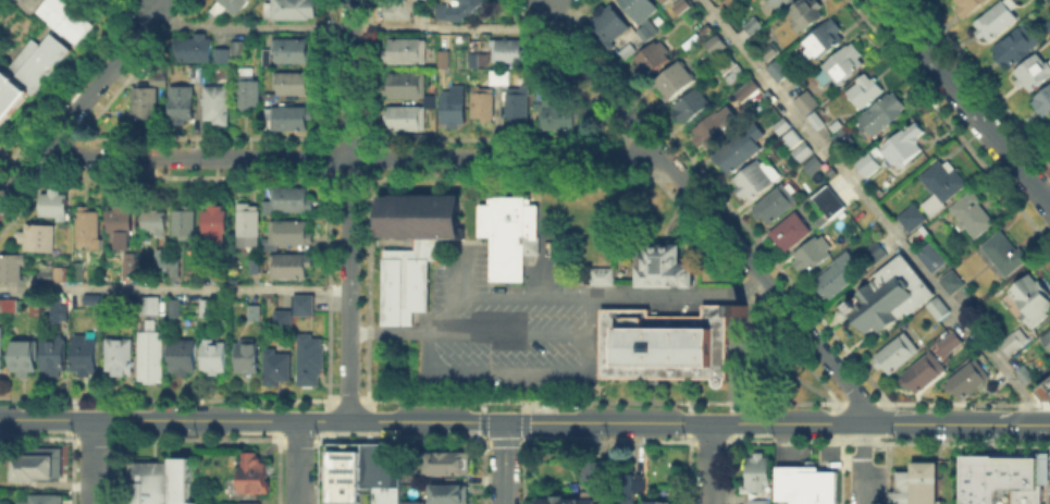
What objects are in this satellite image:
building: (662, 1)
building: (668, 2)
building: (727, 3)
building: (782, 3)
building: (236, 4)
road: (148, 5)
road: (553, 5)
building: (971, 5)
building: (682, 8)
building: (292, 9)
building: (402, 9)
building: (462, 10)
building: (810, 13)
building: (644, 15)
building: (63, 17)
building: (999, 20)
road: (351, 26)
building: (613, 27)
building: (704, 27)
building: (748, 27)
building: (1049, 27)
building: (827, 39)
building: (714, 42)
building: (194, 48)
building: (1016, 49)
building: (770, 50)
building: (234, 51)
building: (295, 52)
building: (408, 52)
building: (510, 52)
building: (629, 52)
building: (220, 53)
building: (652, 58)
building: (445, 60)
building: (475, 62)
building: (729, 63)
building: (785, 66)
building: (844, 67)
building: (25, 71)
road: (594, 73)
building: (1035, 73)
building: (200, 75)
building: (501, 77)
building: (671, 78)
building: (160, 79)
building: (295, 85)
building: (866, 89)
building: (745, 91)
building: (250, 94)
road: (82, 99)
building: (144, 101)
building: (805, 101)
building: (184, 102)
building: (431, 102)
road: (965, 102)
building: (1045, 102)
building: (219, 105)
building: (484, 105)
building: (692, 105)
building: (519, 106)
building: (455, 111)
building: (882, 112)
building: (563, 118)
building: (295, 119)
building: (814, 119)
building: (1049, 123)
building: (833, 124)
building: (712, 131)
building: (789, 132)
building: (844, 142)
building: (906, 144)
building: (805, 152)
building: (739, 155)
road: (348, 157)
building: (869, 164)
building: (814, 167)
building: (757, 181)
building: (942, 185)
building: (291, 200)
building: (777, 205)
building: (55, 206)
building: (829, 206)
road: (347, 209)
road: (873, 209)
building: (968, 212)
building: (420, 213)
building: (914, 218)
building: (156, 220)
building: (186, 222)
building: (250, 223)
building: (122, 226)
building: (217, 226)
building: (90, 229)
building: (508, 232)
building: (293, 233)
building: (792, 233)
building: (39, 237)
building: (1006, 253)
building: (877, 255)
building: (814, 257)
building: (162, 258)
building: (132, 265)
building: (255, 265)
building: (662, 265)
building: (288, 266)
road: (543, 267)
building: (12, 269)
building: (173, 269)
road: (456, 270)
building: (81, 271)
building: (944, 271)
building: (597, 273)
building: (42, 274)
building: (222, 275)
building: (407, 278)
building: (840, 279)
road: (763, 283)
road: (173, 290)
road: (674, 292)
road: (497, 294)
building: (1033, 294)
building: (893, 296)
building: (90, 297)
building: (8, 303)
building: (148, 304)
building: (301, 304)
building: (173, 306)
building: (205, 306)
building: (937, 307)
building: (59, 308)
building: (252, 312)
building: (280, 318)
road: (386, 332)
road: (506, 332)
building: (1046, 336)
building: (950, 341)
building: (0, 342)
building: (664, 342)
building: (1015, 343)
building: (899, 354)
building: (148, 355)
building: (87, 356)
building: (57, 357)
building: (25, 358)
building: (121, 358)
building: (185, 358)
building: (214, 358)
building: (249, 358)
building: (313, 360)
building: (280, 369)
road: (526, 370)
building: (921, 371)
building: (1023, 372)
building: (965, 377)
building: (1049, 391)
road: (173, 420)
road: (424, 420)
traffic signals: (503, 420)
road: (682, 421)
road: (902, 423)
road: (990, 423)
road: (1045, 425)
road: (94, 462)
road: (299, 462)
building: (446, 462)
road: (503, 462)
road: (709, 464)
road: (862, 464)
building: (3, 465)
building: (36, 469)
building: (590, 469)
building: (255, 472)
building: (756, 472)
building: (359, 474)
building: (1003, 477)
building: (630, 481)
building: (162, 483)
building: (804, 483)
building: (916, 483)
parking lot: (1049, 492)
building: (448, 493)
building: (45, 500)
building: (565, 500)
building: (664, 501)
building: (755, 501)
building: (247, 502)
building: (418, 503)

